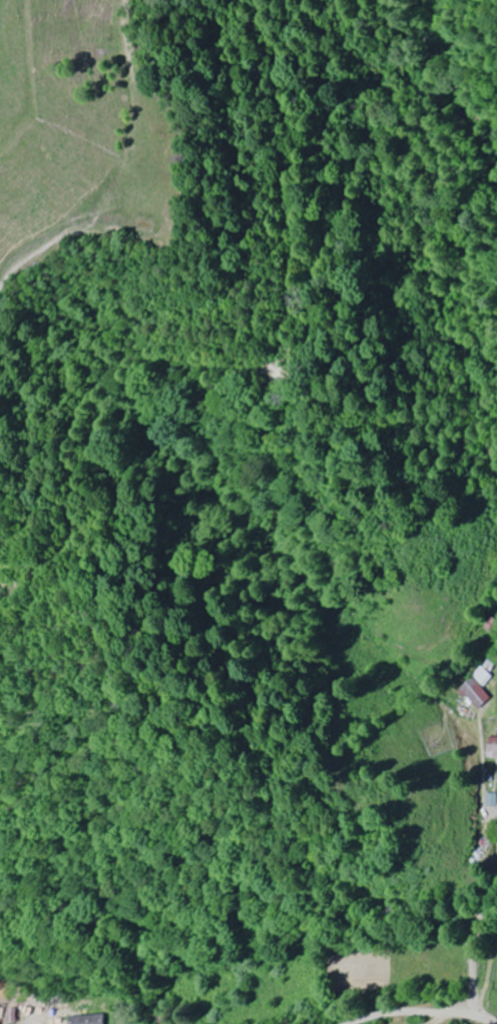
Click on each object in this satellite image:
building: (481, 693)
building: (468, 709)
building: (494, 747)
road: (204, 873)
road: (474, 949)
road: (417, 1011)
building: (90, 1019)

